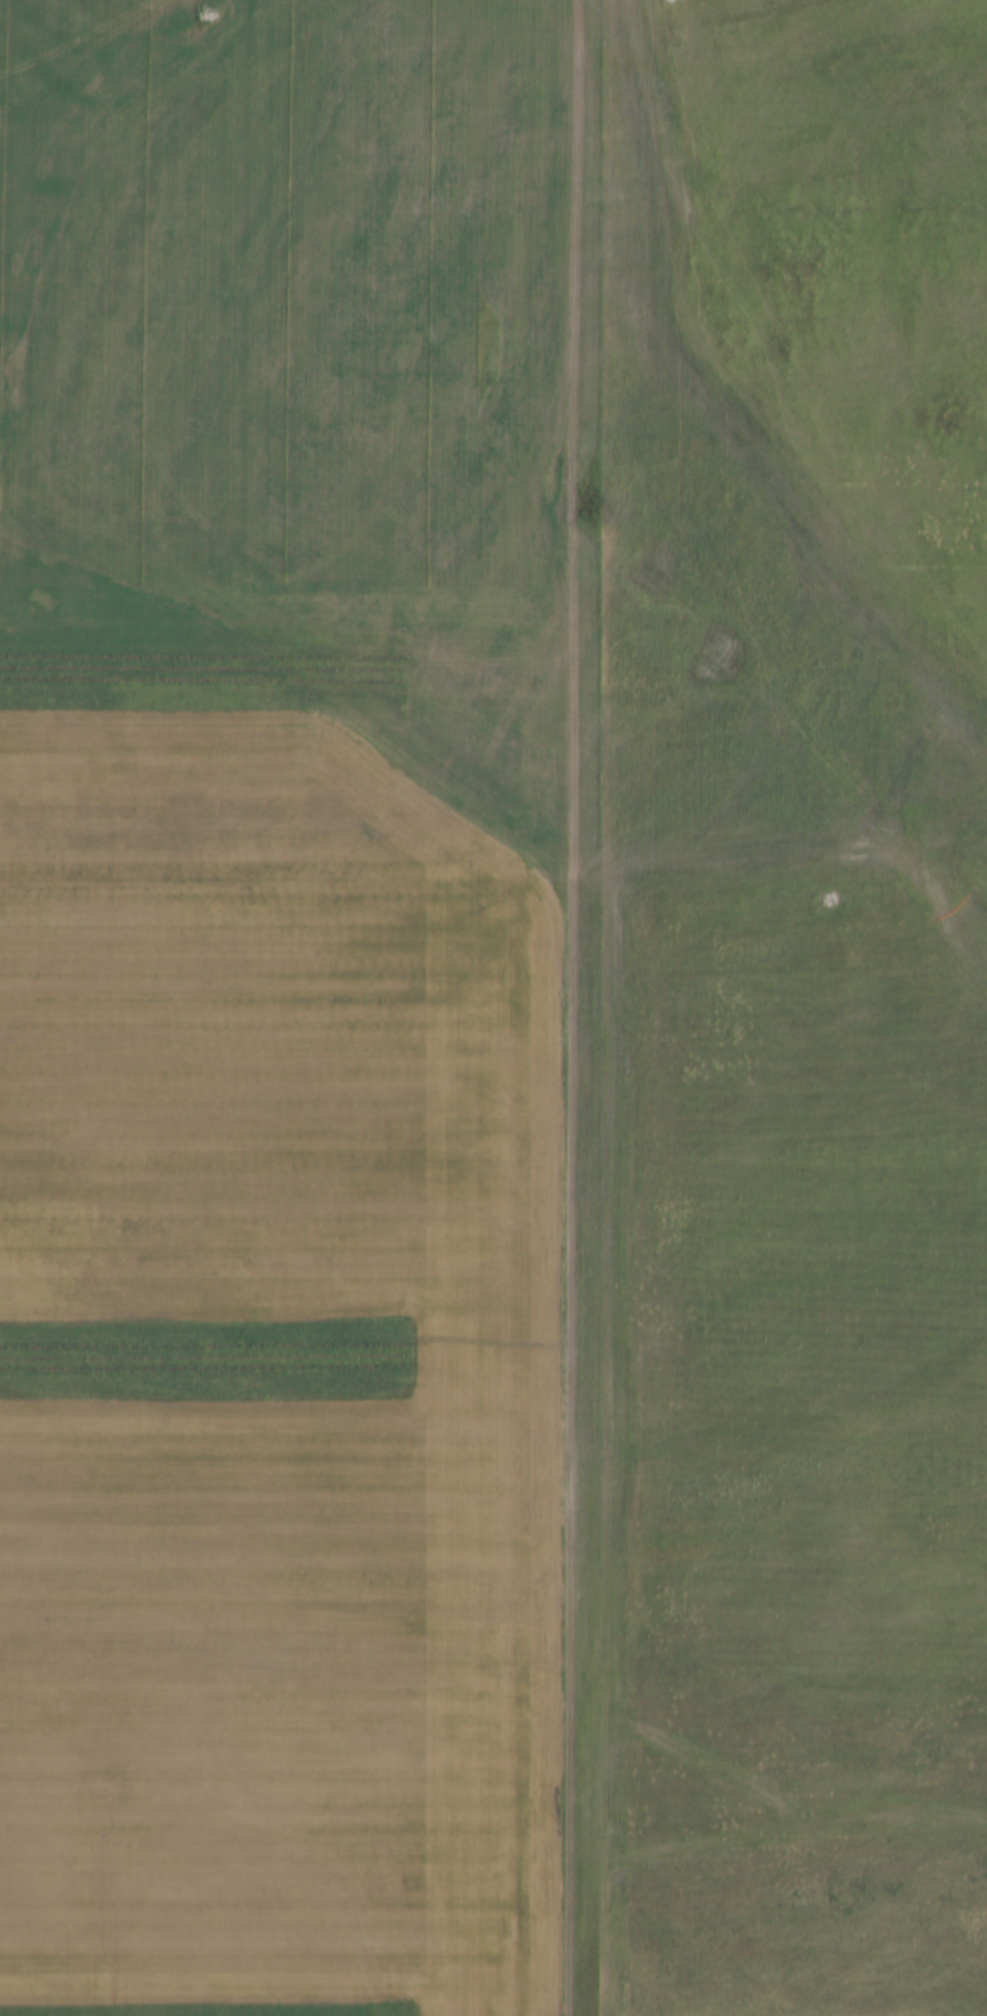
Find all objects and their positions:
quarry: (505, 975)

